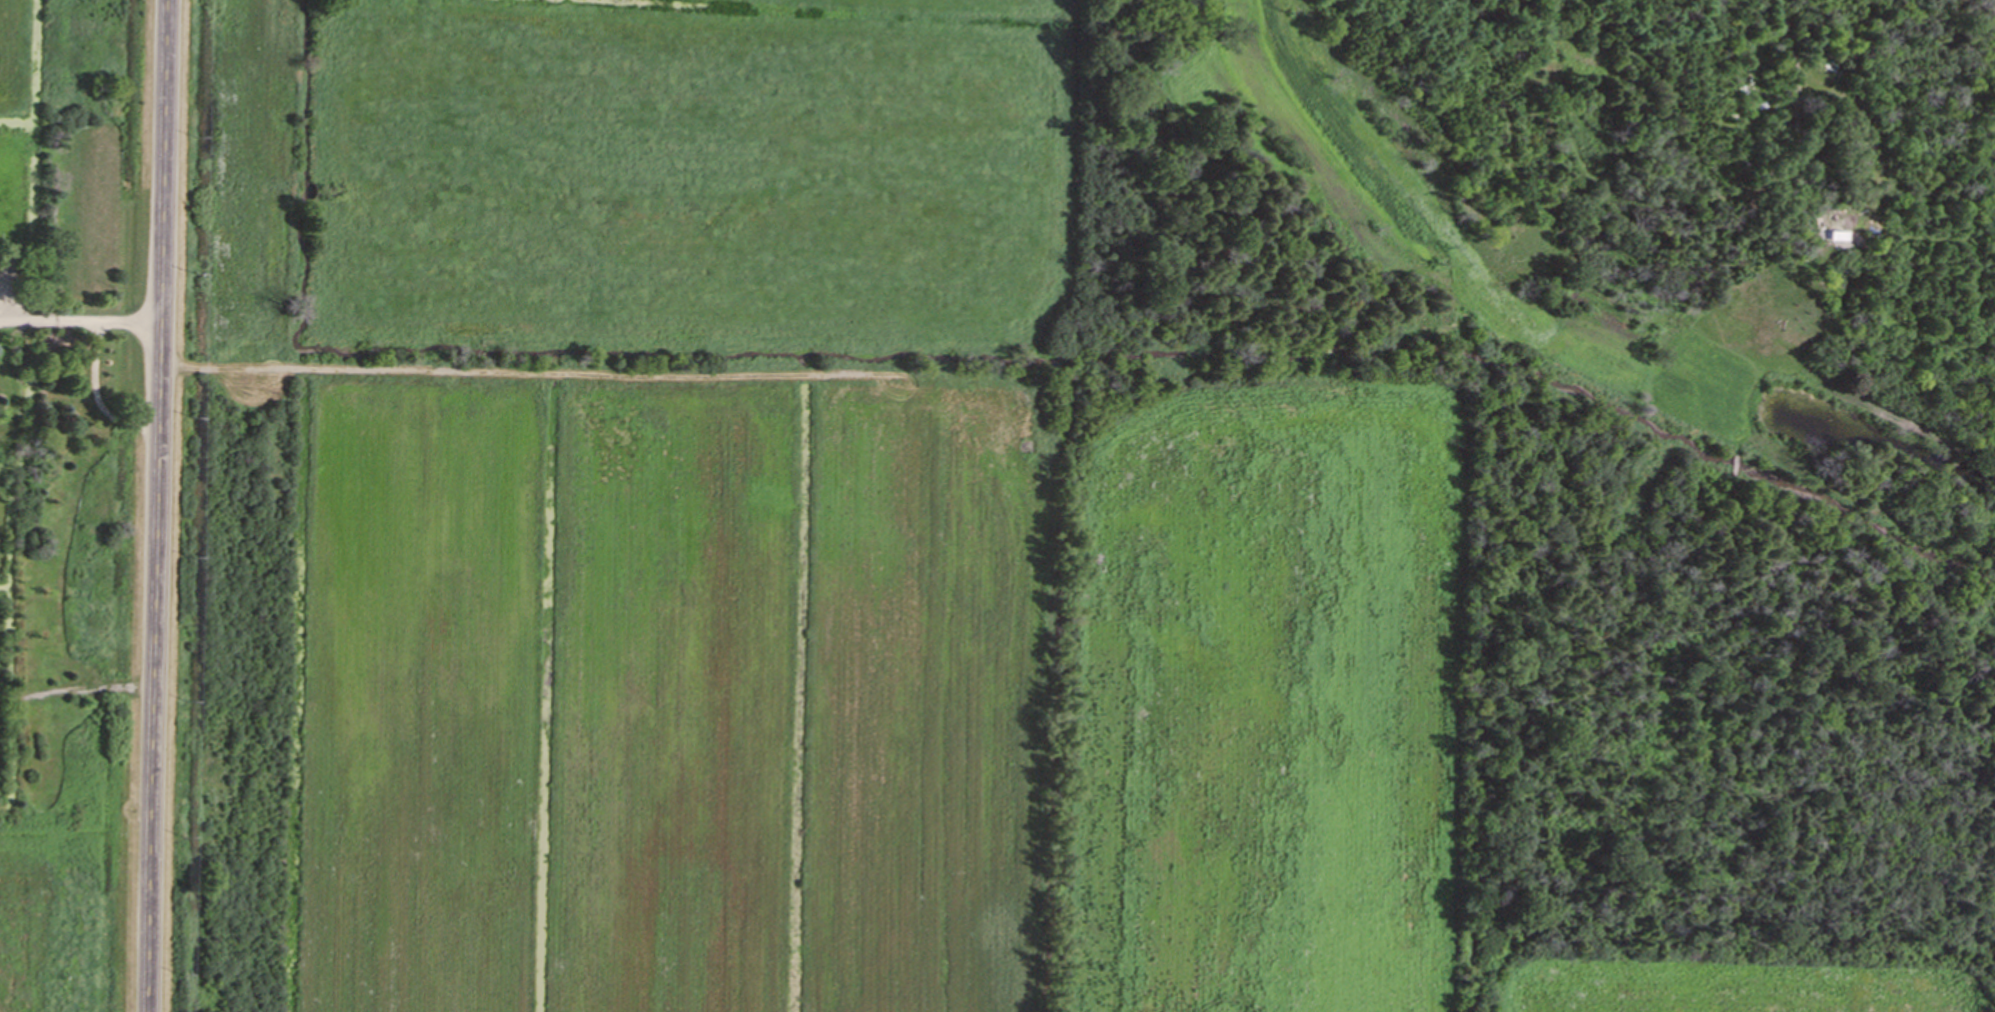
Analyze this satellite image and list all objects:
road: (1784, 33)
building: (1830, 66)
road: (94, 367)
road: (156, 505)
crop: (680, 687)

